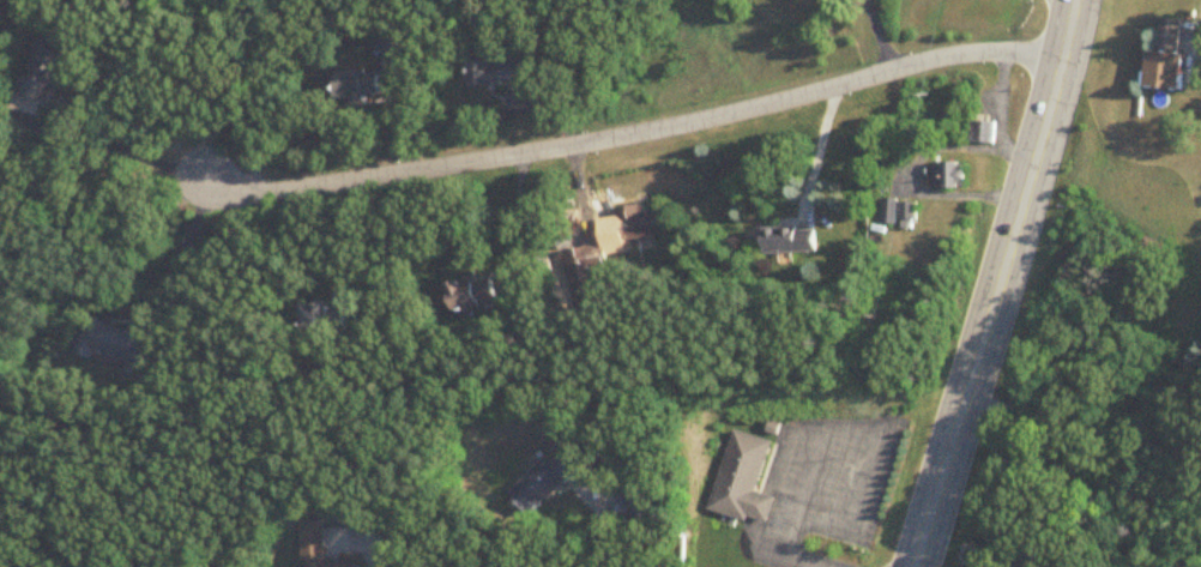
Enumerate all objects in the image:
building: (396, 43)
building: (1167, 58)
building: (46, 68)
building: (494, 73)
building: (358, 88)
road: (229, 91)
road: (628, 123)
building: (983, 133)
road: (108, 147)
road: (817, 147)
building: (948, 175)
building: (638, 224)
road: (348, 234)
building: (790, 242)
road: (180, 248)
building: (584, 259)
road: (996, 284)
building: (475, 294)
building: (322, 320)
building: (115, 345)
road: (870, 420)
road: (801, 466)
building: (732, 471)
building: (539, 484)
road: (752, 500)
building: (647, 503)
road: (603, 543)
building: (313, 548)
road: (771, 548)
building: (1034, 554)
road: (804, 559)

